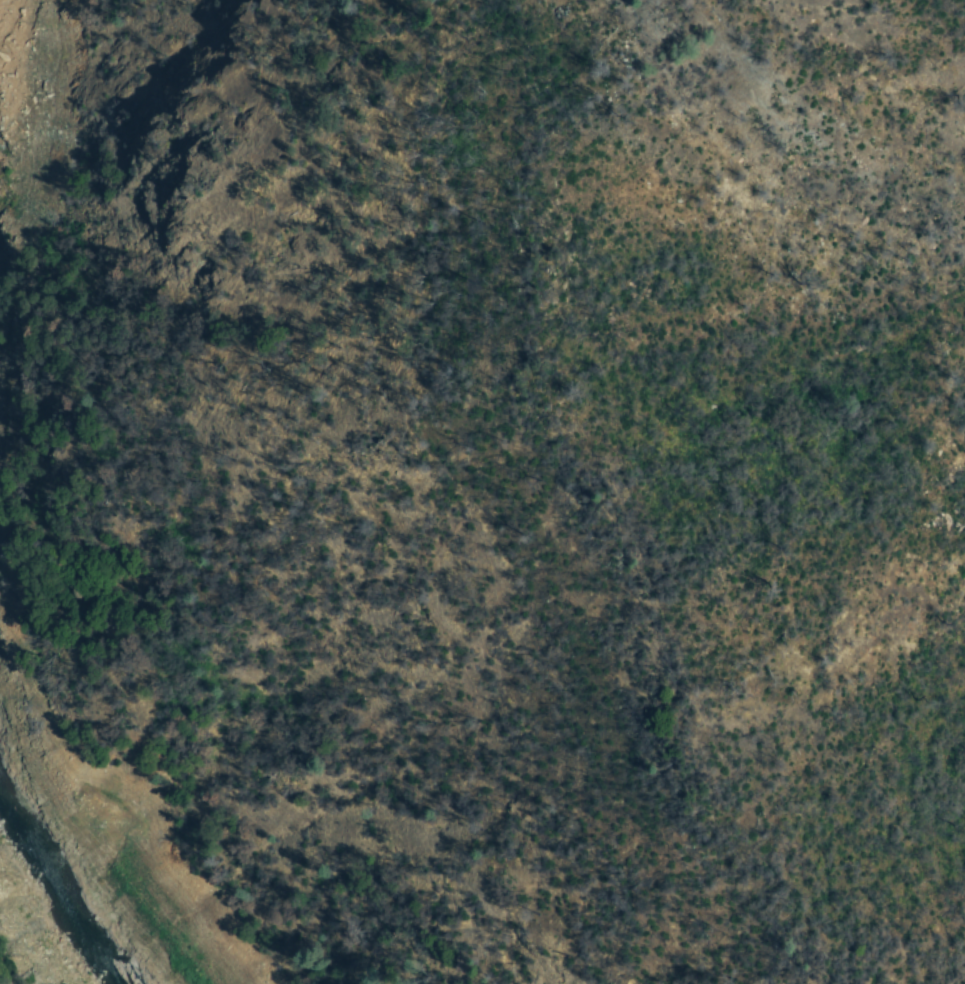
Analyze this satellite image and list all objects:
river: (73, 895)

